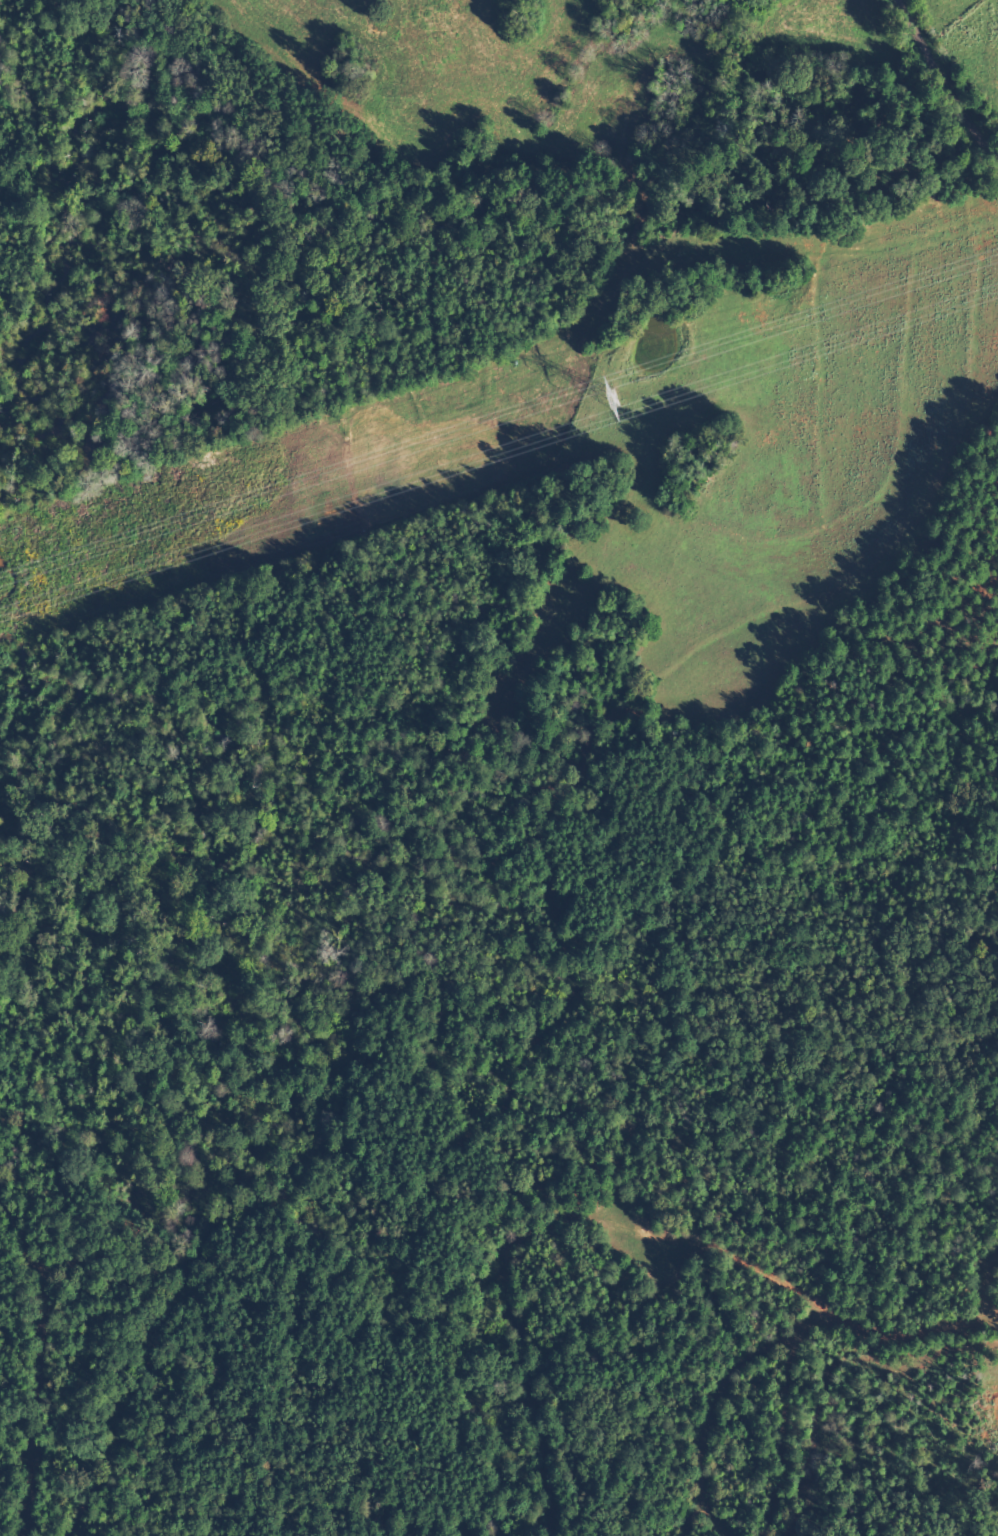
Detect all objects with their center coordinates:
road: (928, 99)
power tower: (611, 399)

